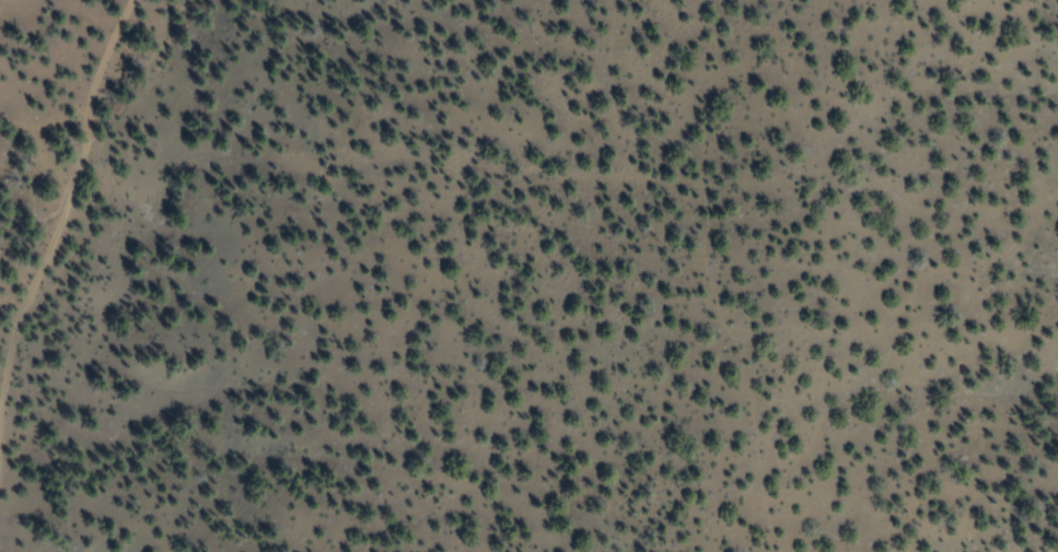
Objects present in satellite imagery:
road: (56, 208)

